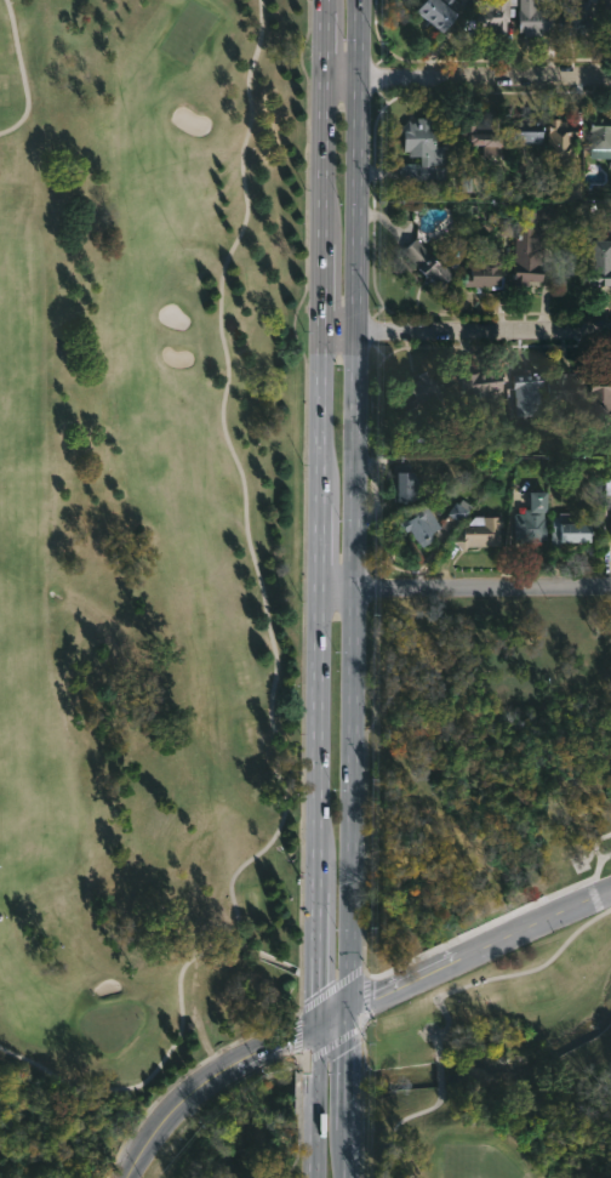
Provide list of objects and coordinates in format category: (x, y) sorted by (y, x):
road: (327, 5)
building: (438, 12)
building: (606, 15)
building: (493, 16)
building: (533, 18)
building: (576, 18)
park: (188, 30)
road: (327, 44)
road: (22, 72)
road: (469, 76)
building: (526, 131)
building: (599, 131)
building: (484, 133)
building: (560, 138)
building: (422, 152)
road: (325, 160)
building: (531, 246)
building: (601, 262)
building: (432, 264)
building: (489, 269)
road: (322, 288)
road: (466, 334)
building: (485, 382)
building: (564, 389)
building: (419, 392)
building: (529, 392)
building: (486, 394)
building: (600, 397)
road: (321, 416)
road: (241, 480)
building: (405, 484)
road: (358, 500)
building: (533, 520)
building: (424, 525)
building: (569, 529)
building: (482, 531)
road: (320, 547)
road: (466, 591)
park: (206, 639)
road: (319, 742)
park: (498, 766)
road: (434, 944)
road: (481, 945)
road: (318, 957)
road: (268, 958)
road: (481, 979)
traffic signals: (355, 1002)
road: (335, 1012)
traffic signals: (315, 1023)
park: (110, 1024)
road: (354, 1038)
road: (315, 1051)
road: (155, 1069)
road: (439, 1071)
road: (201, 1079)
road: (353, 1088)
road: (316, 1091)
road: (399, 1122)
park: (142, 1137)
road: (315, 1140)
road: (352, 1140)
park: (475, 1162)

